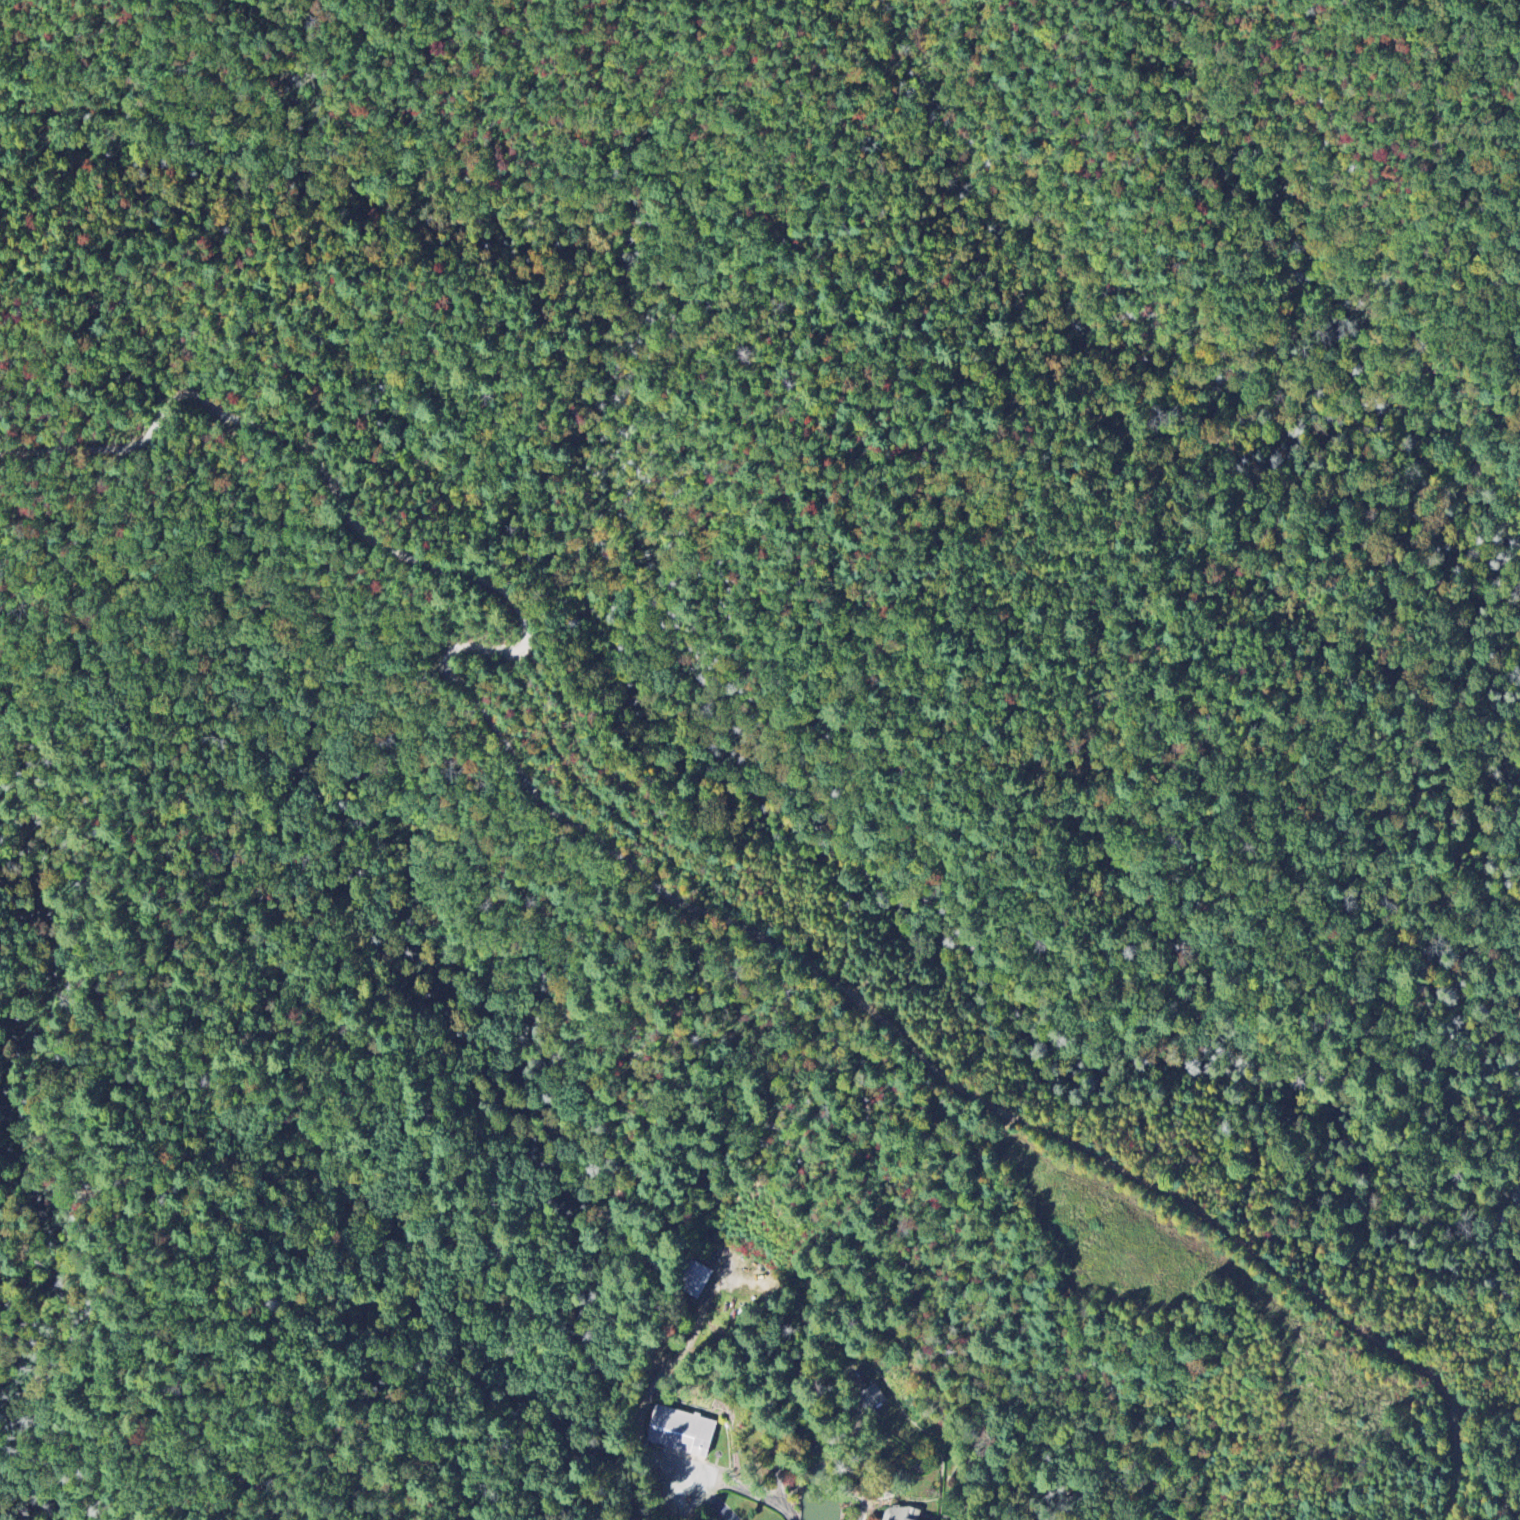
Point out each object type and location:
building: (1515, 1195)
road: (816, 1386)
building: (872, 1398)
building: (682, 1432)
road: (649, 1451)
road: (54, 1461)
building: (904, 1514)

